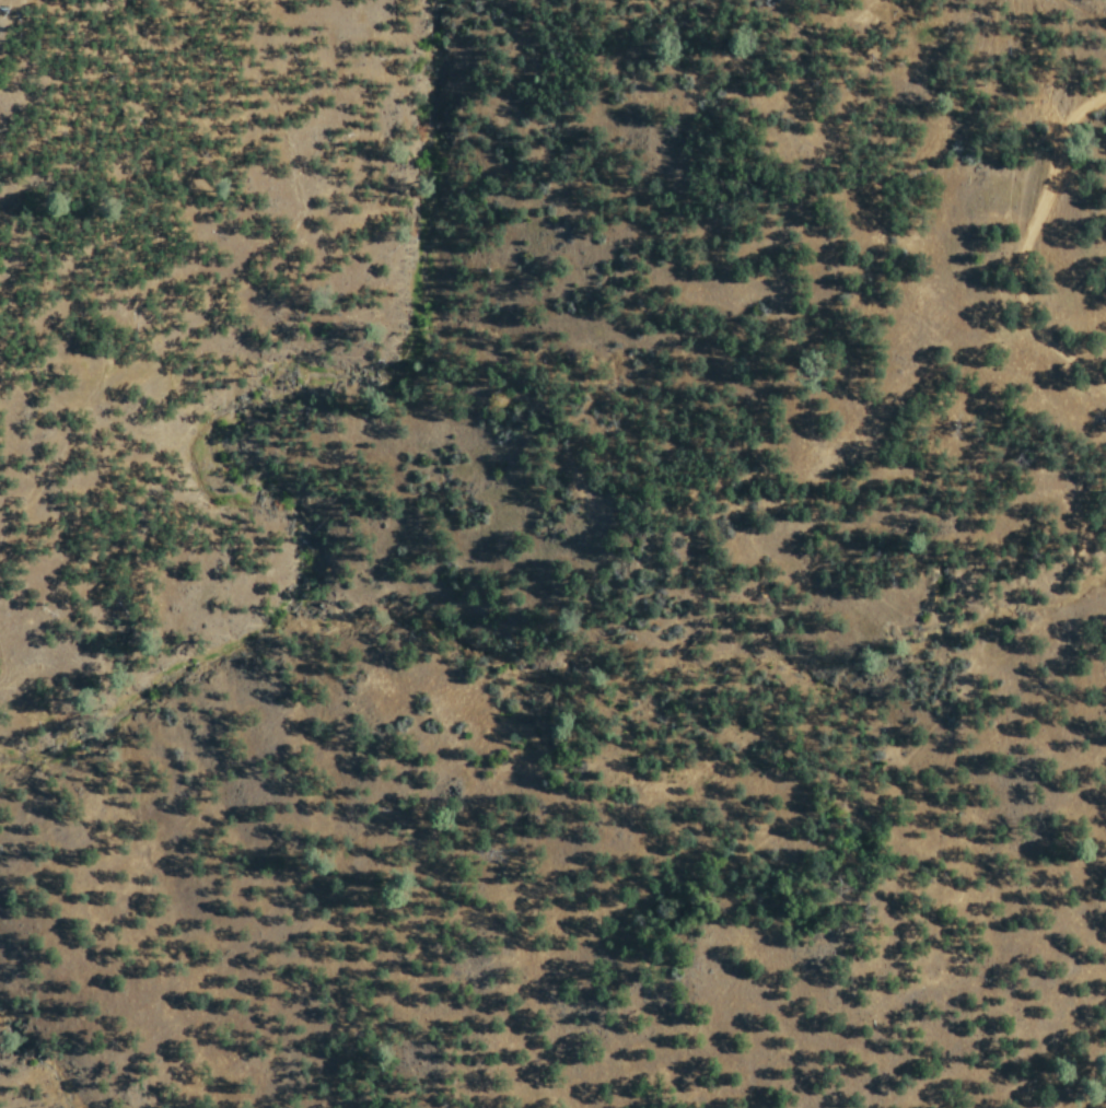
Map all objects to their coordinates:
road: (1024, 243)

